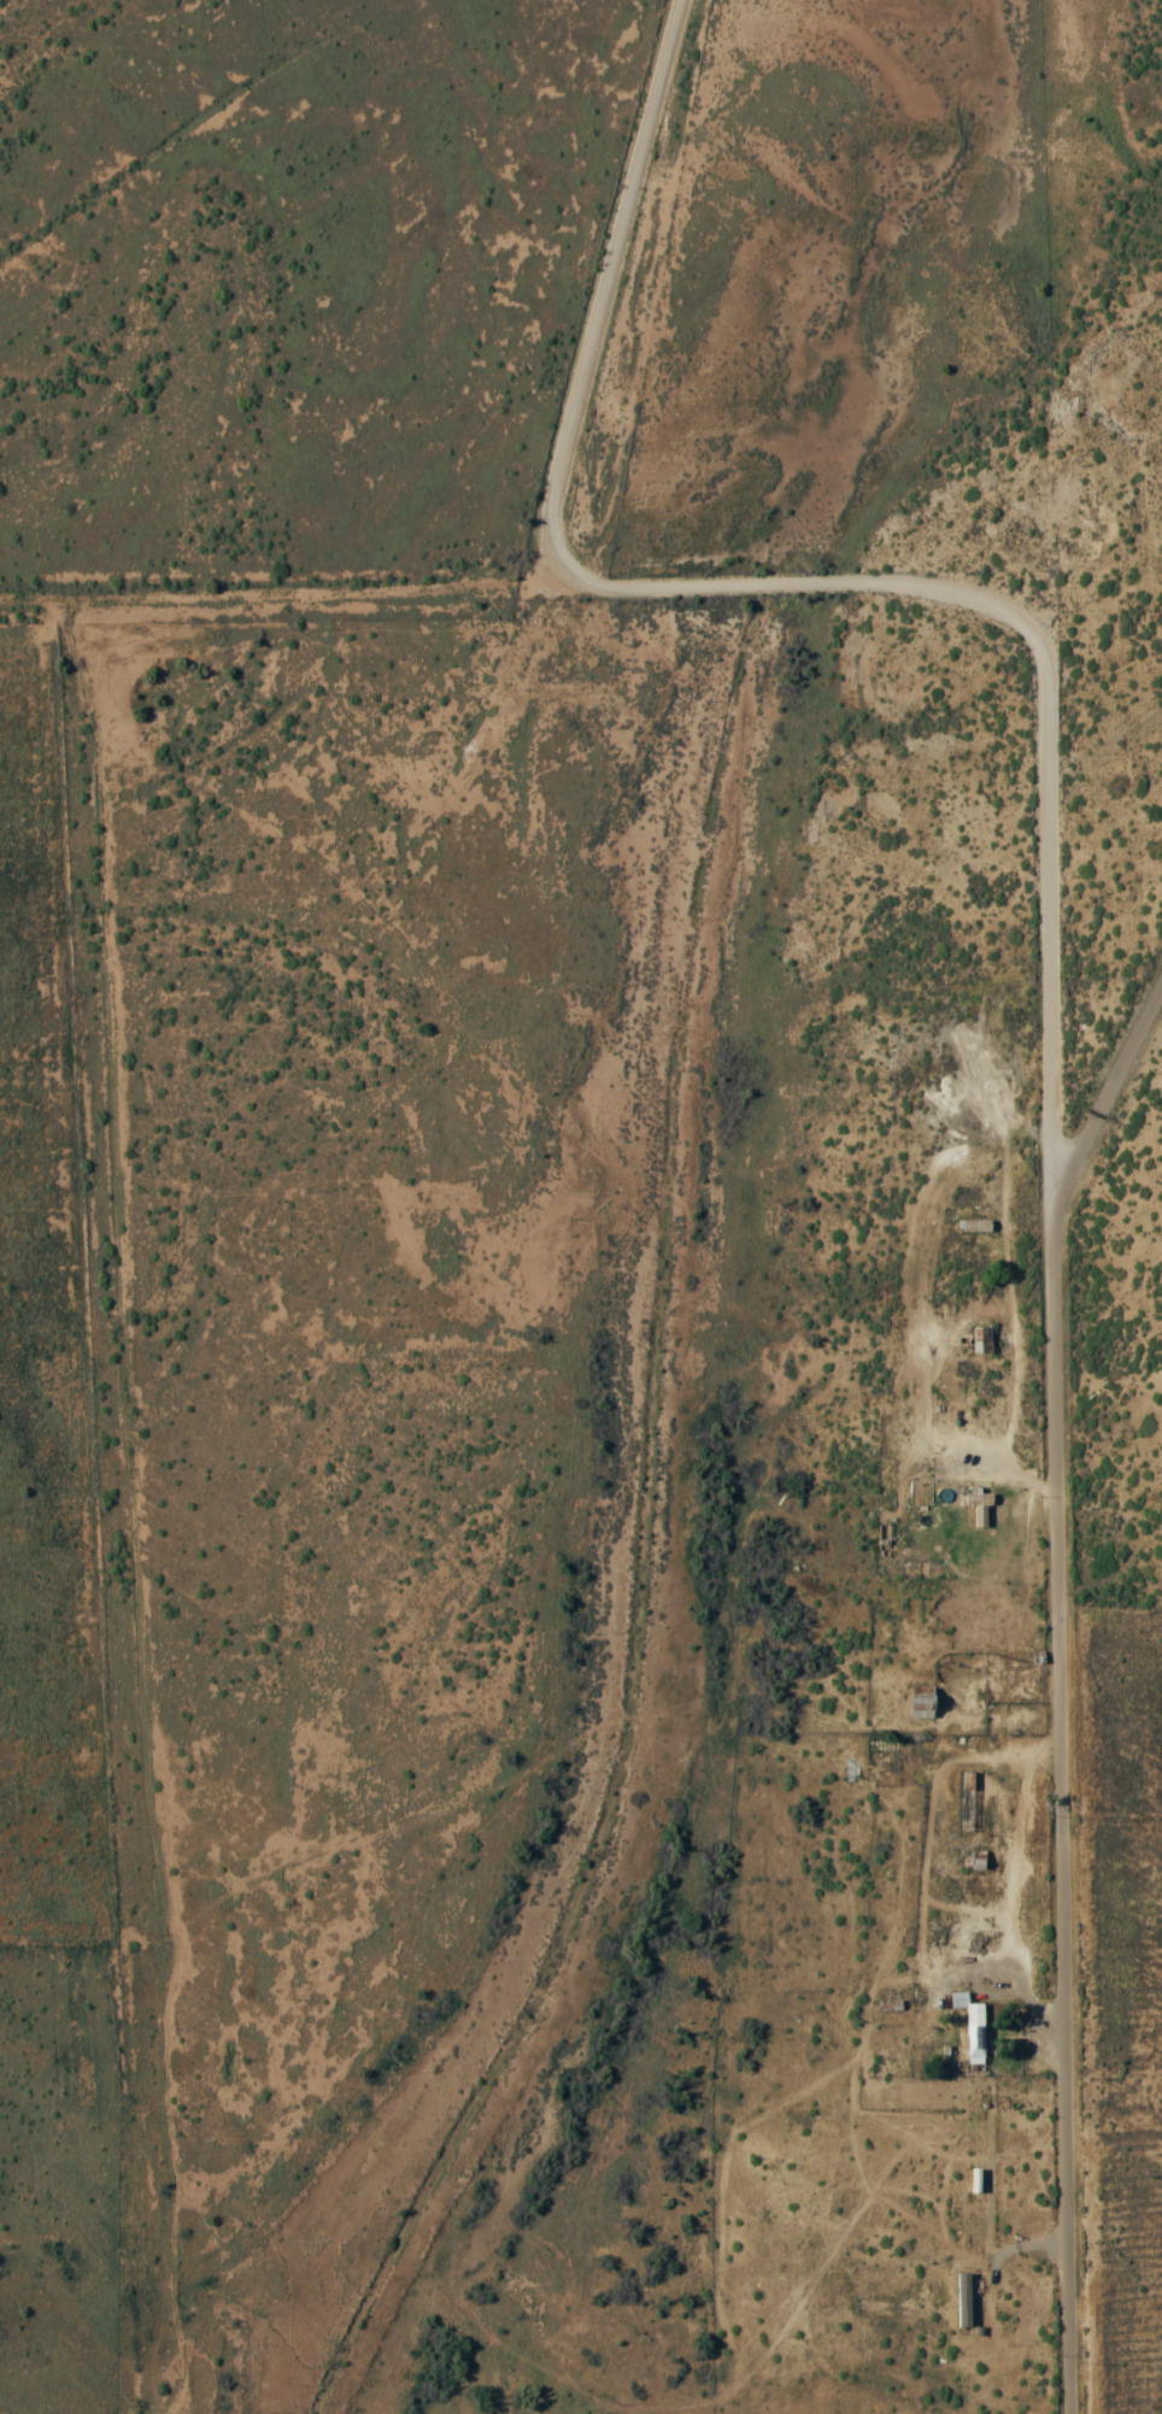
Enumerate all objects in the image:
road: (601, 312)
road: (824, 582)
building: (975, 1224)
building: (982, 1340)
building: (979, 1506)
road: (1057, 1682)
building: (923, 1704)
building: (978, 1861)
building: (974, 2026)

